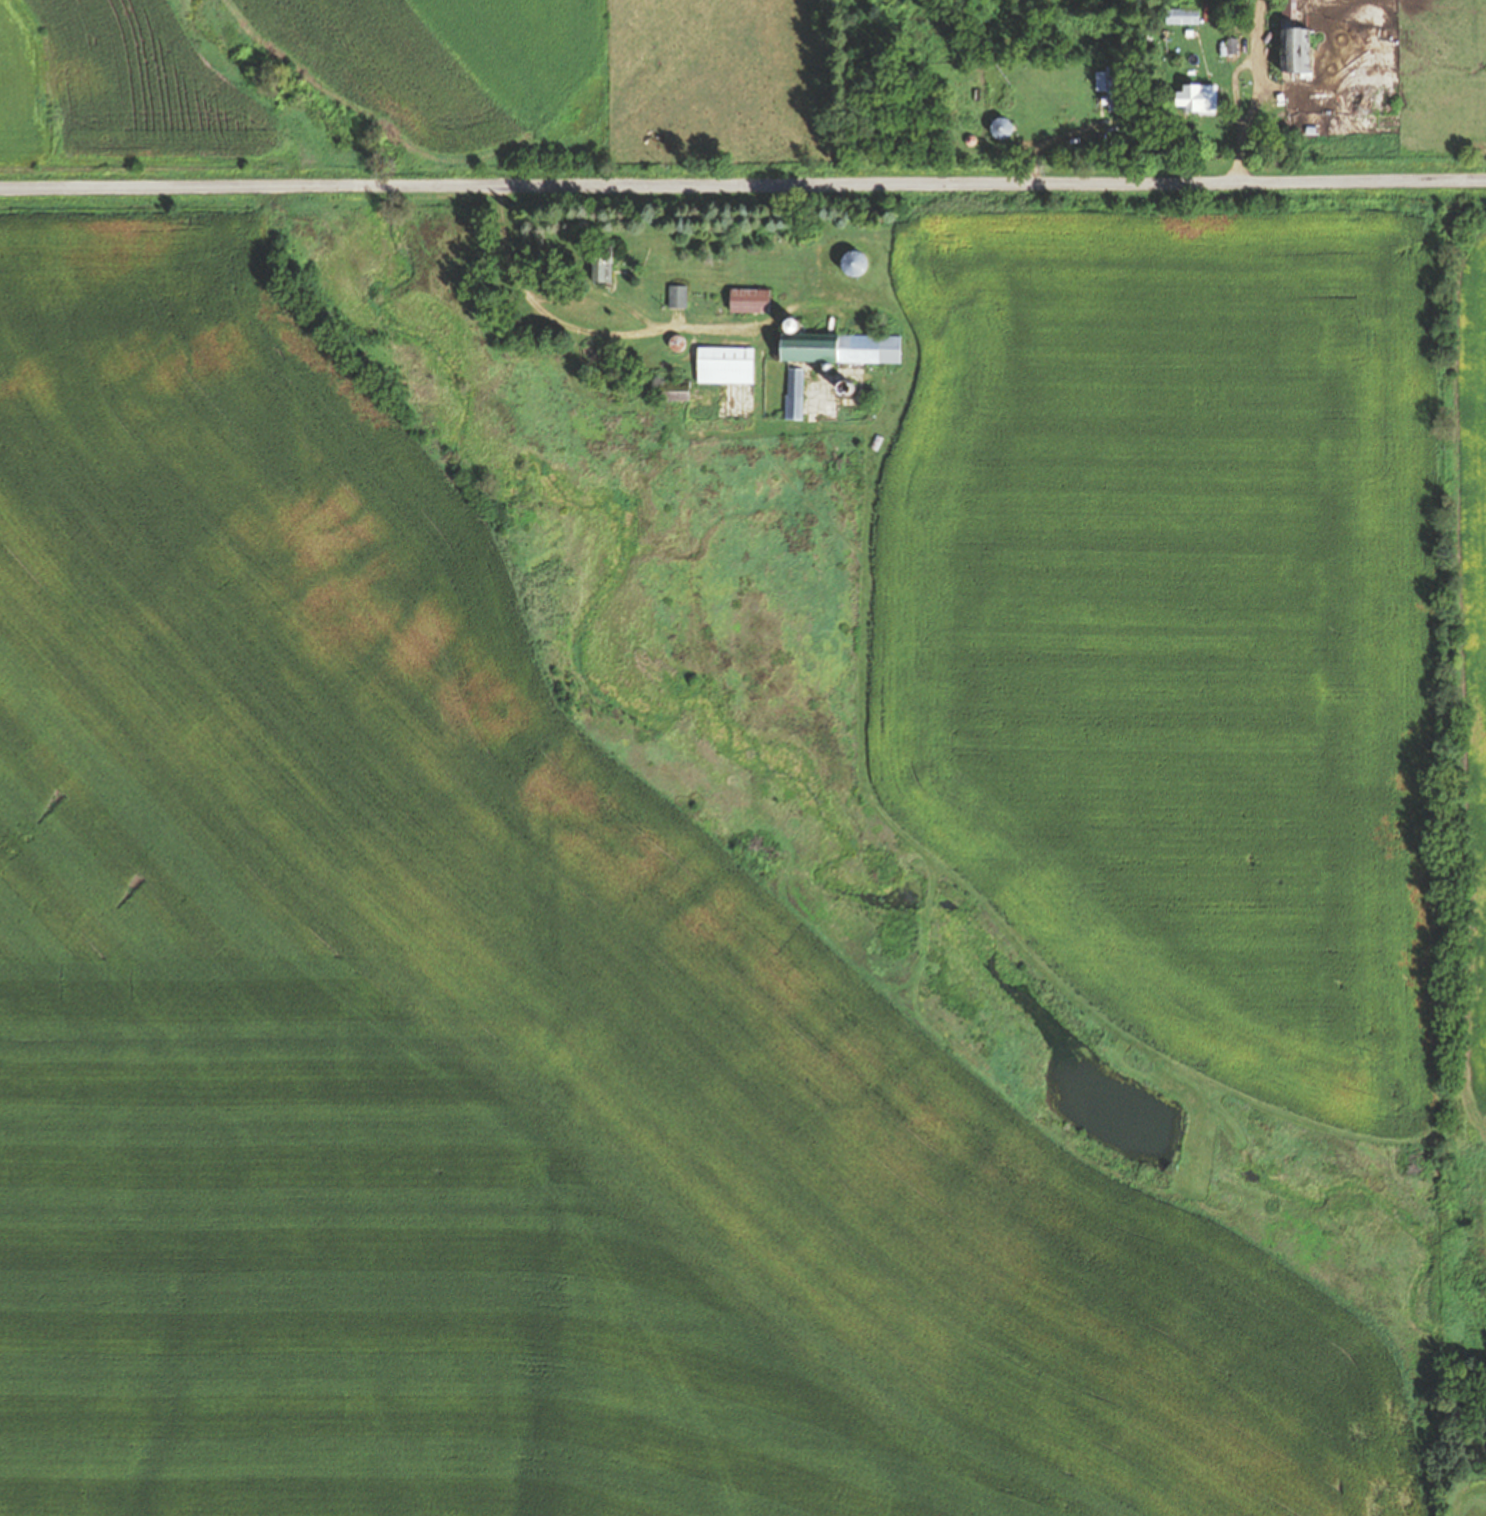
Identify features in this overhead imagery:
building: (1182, 16)
building: (1293, 51)
building: (1108, 85)
building: (1192, 99)
building: (1363, 100)
building: (1000, 128)
road: (743, 187)
building: (853, 261)
building: (600, 263)
building: (677, 295)
building: (749, 299)
building: (839, 348)
building: (595, 355)
building: (725, 364)
building: (842, 386)
building: (674, 391)
building: (794, 392)

